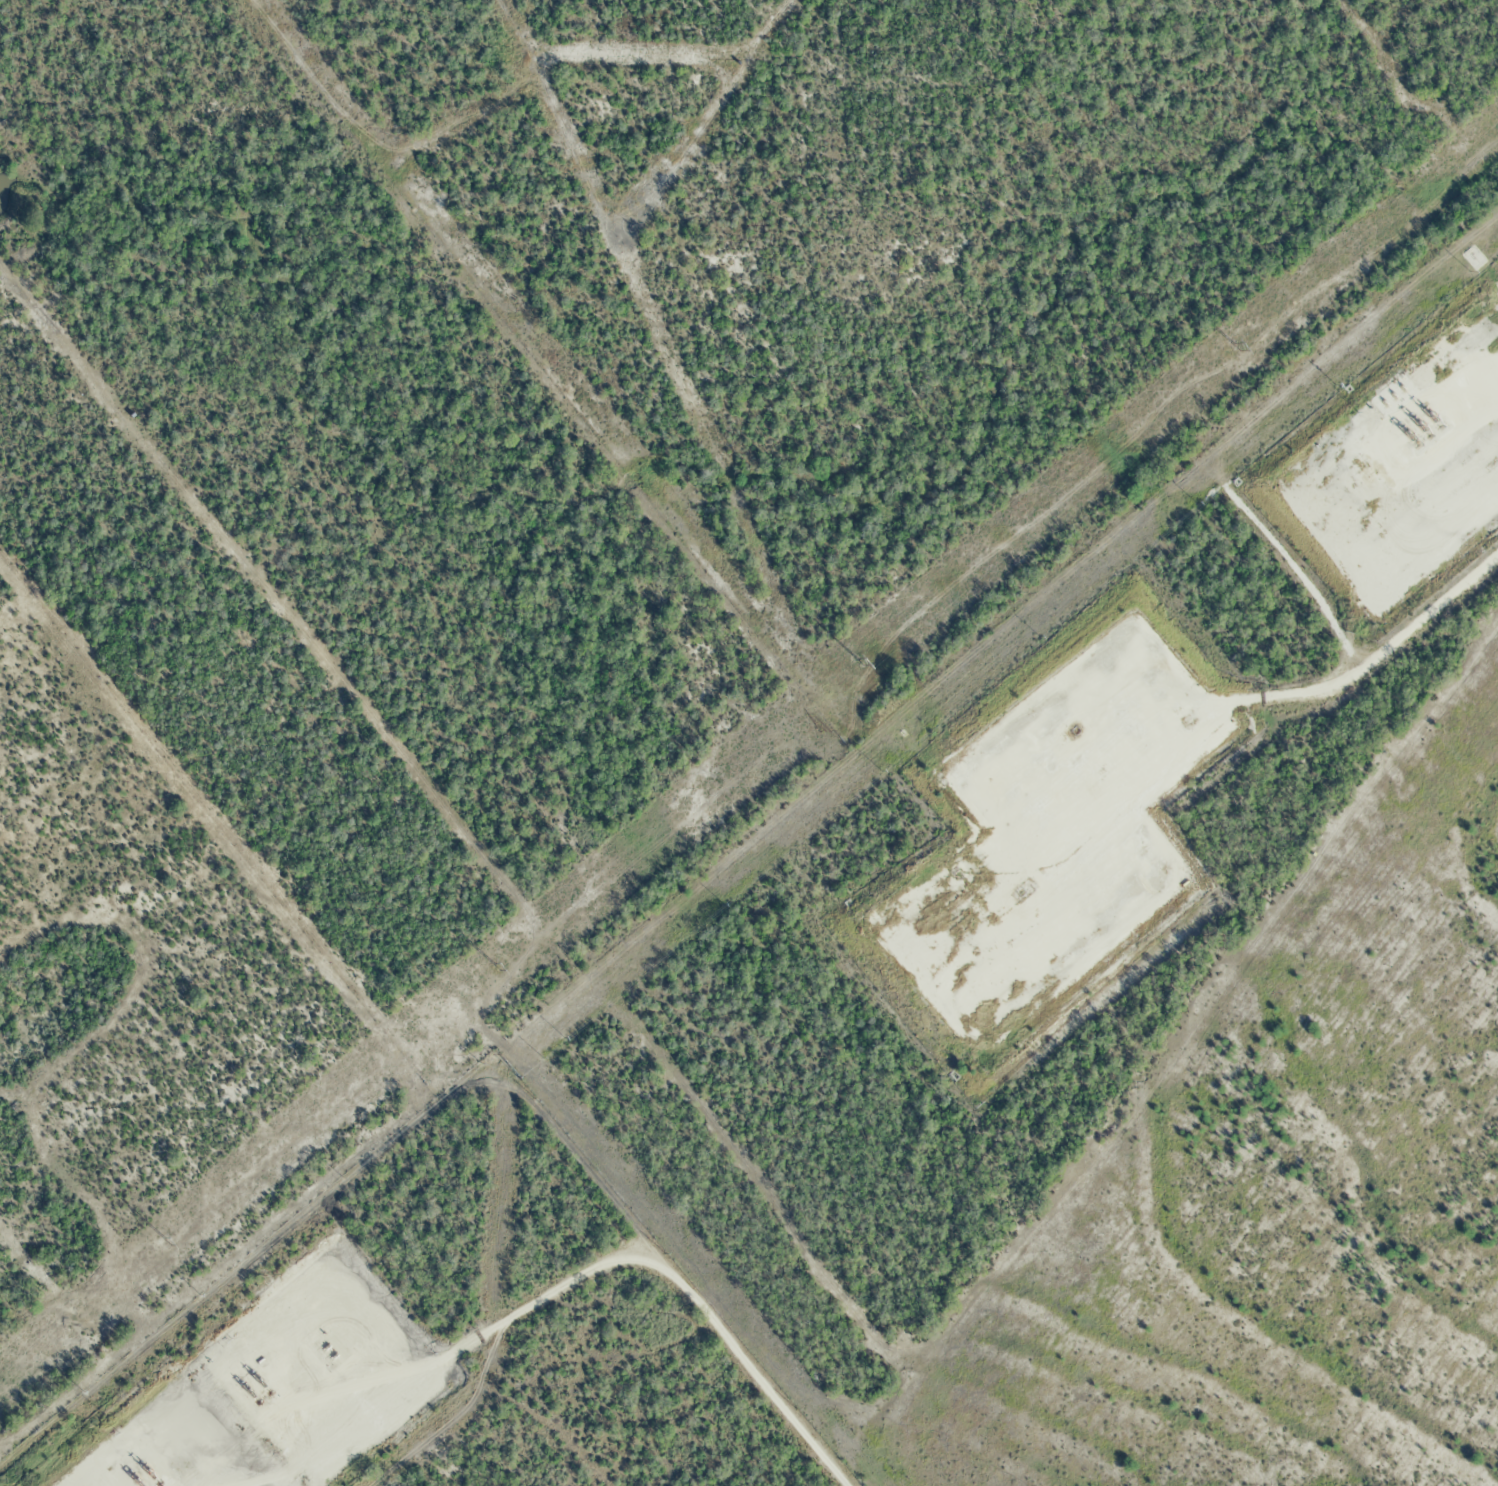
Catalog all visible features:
power tower: (1235, 347)
road: (1415, 466)
power tower: (859, 659)
road: (1367, 659)
road: (1064, 910)
power tower: (495, 965)
power tower: (166, 1241)
road: (560, 1286)

